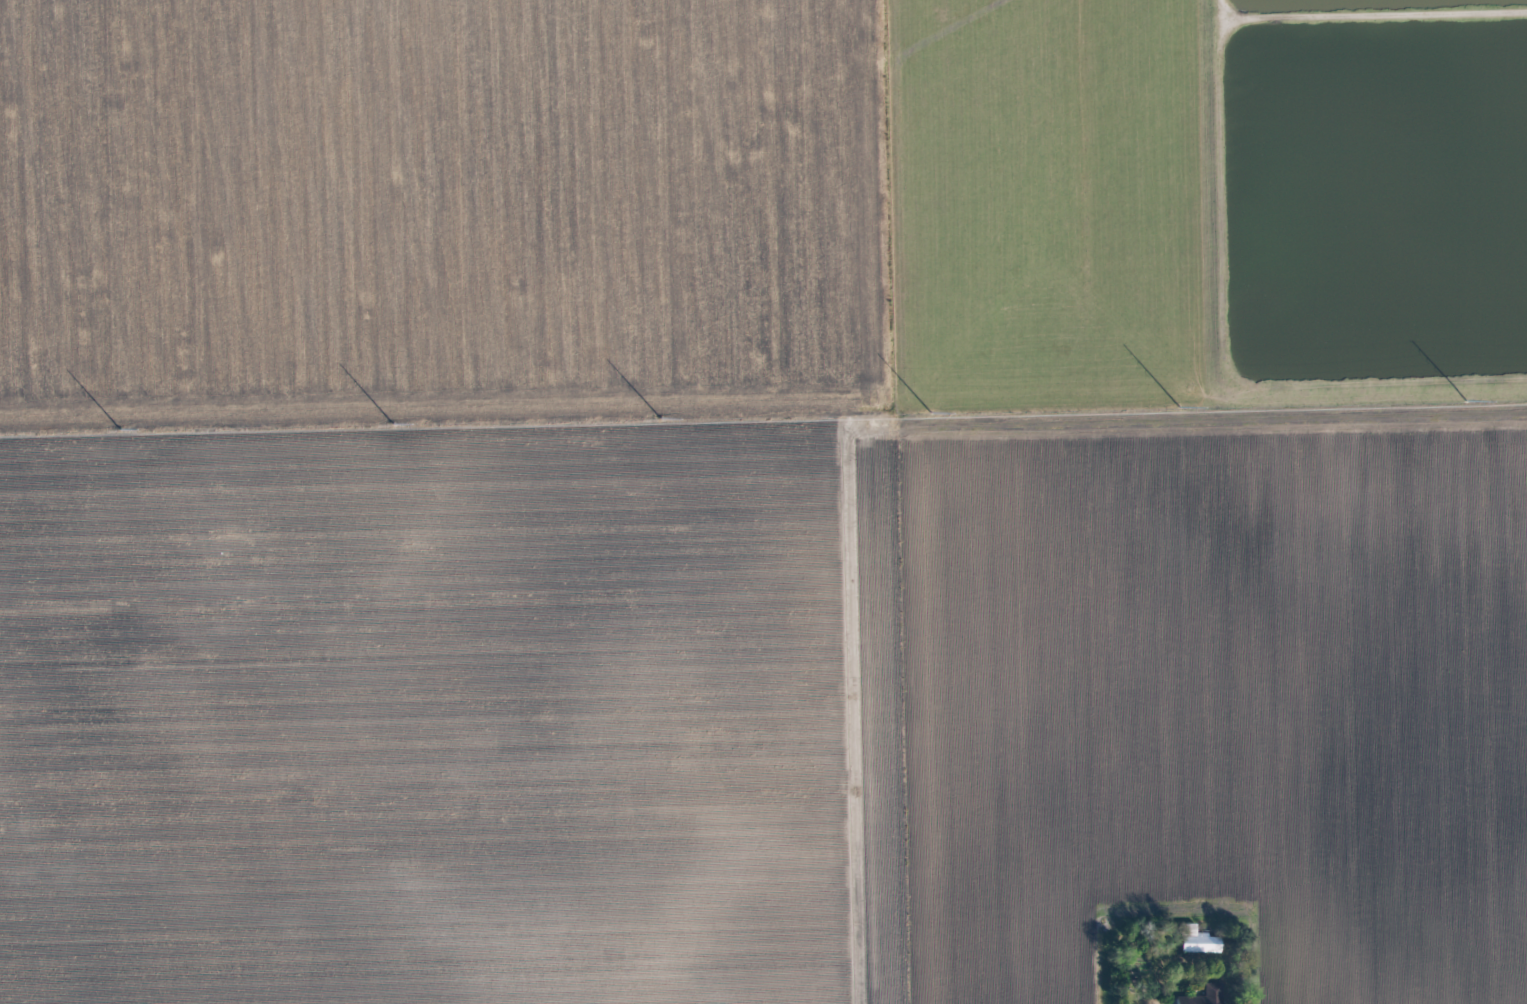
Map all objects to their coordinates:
building: (1198, 941)
building: (1204, 996)
road: (1156, 999)

